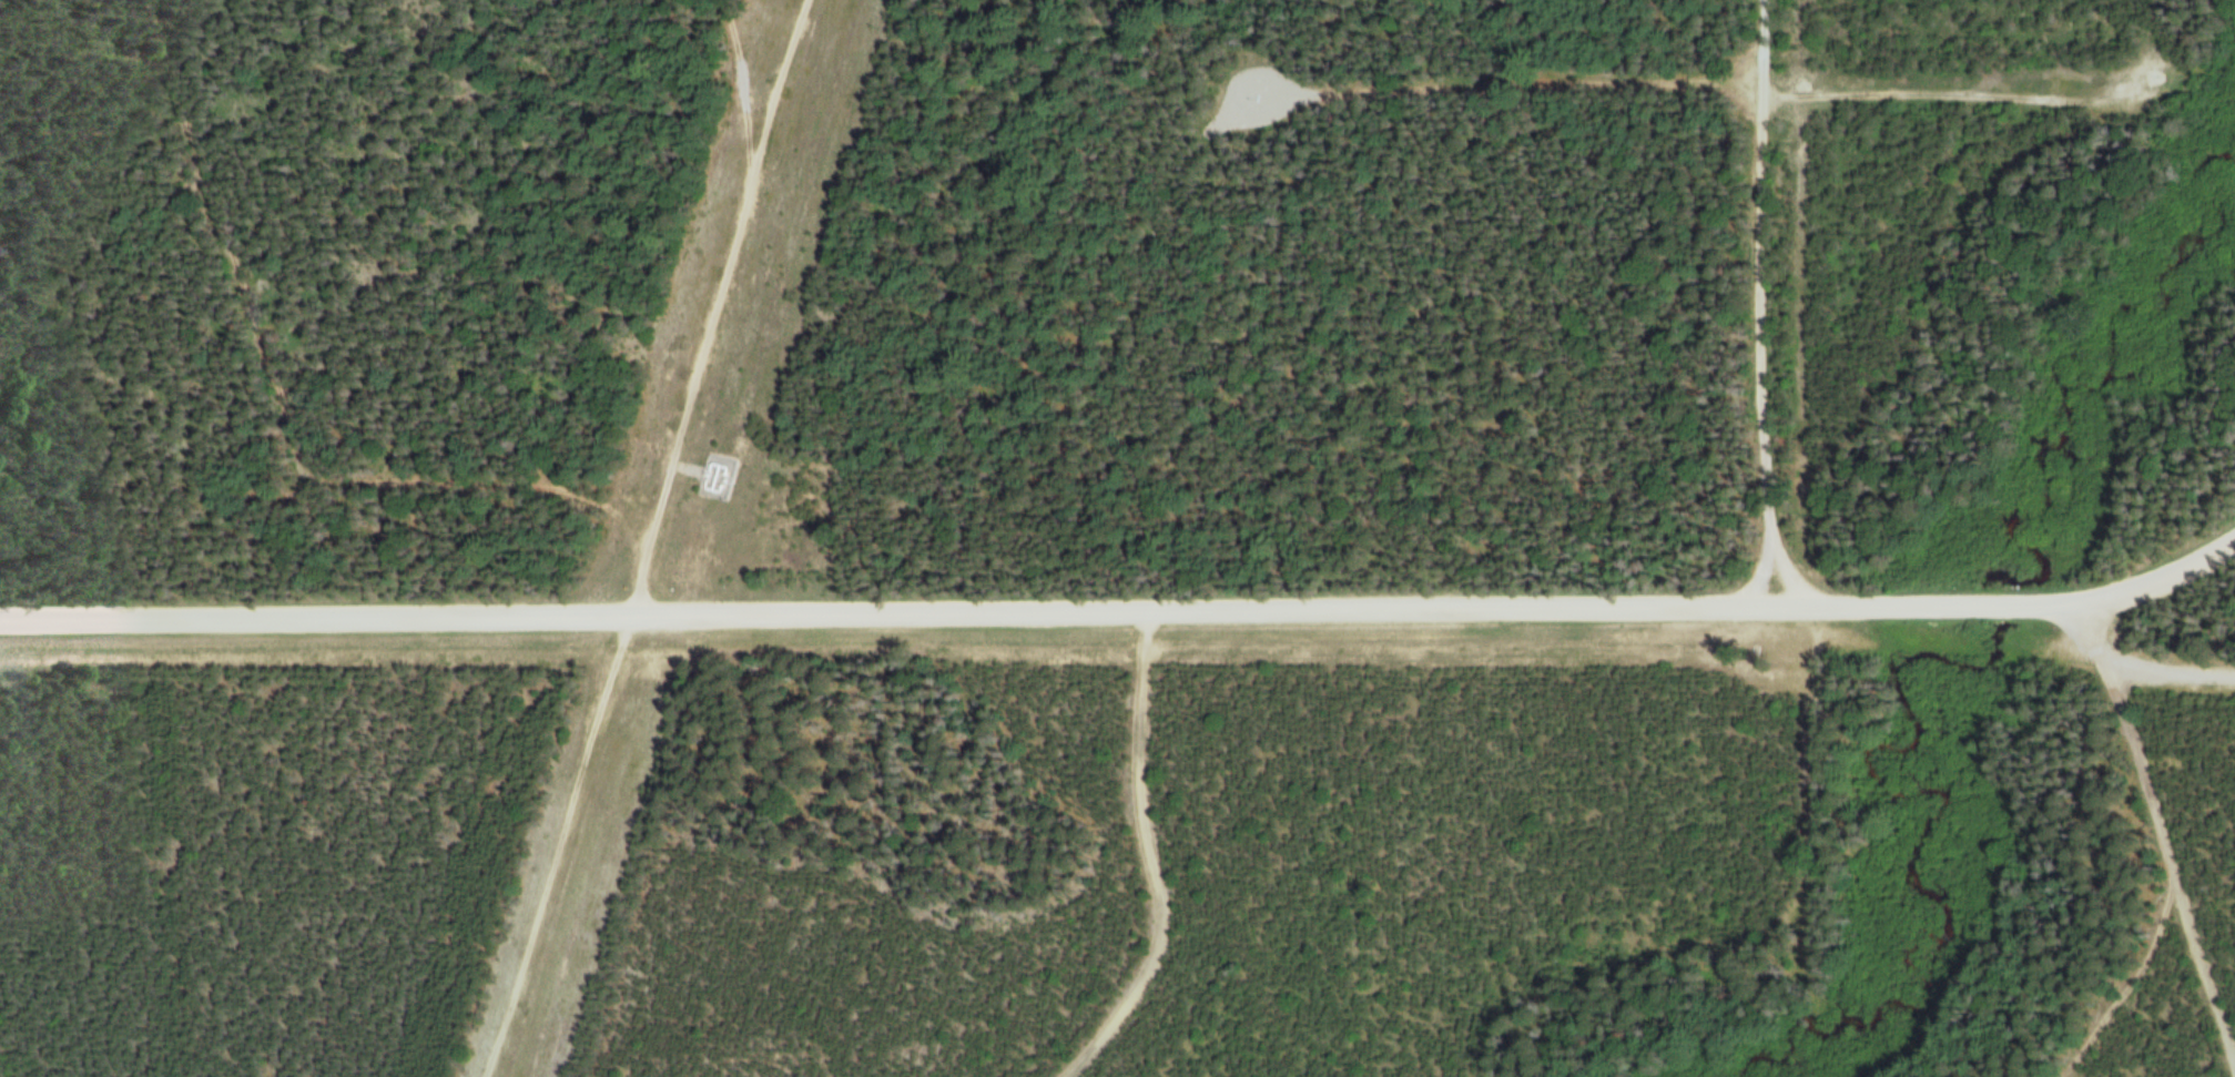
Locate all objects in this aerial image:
road: (1451, 39)
road: (1682, 89)
road: (732, 95)
road: (775, 95)
road: (1761, 308)
road: (280, 417)
road: (2157, 587)
road: (1942, 603)
road: (905, 616)
road: (616, 633)
road: (2171, 667)
road: (2161, 827)
road: (1150, 867)
road: (2130, 986)

